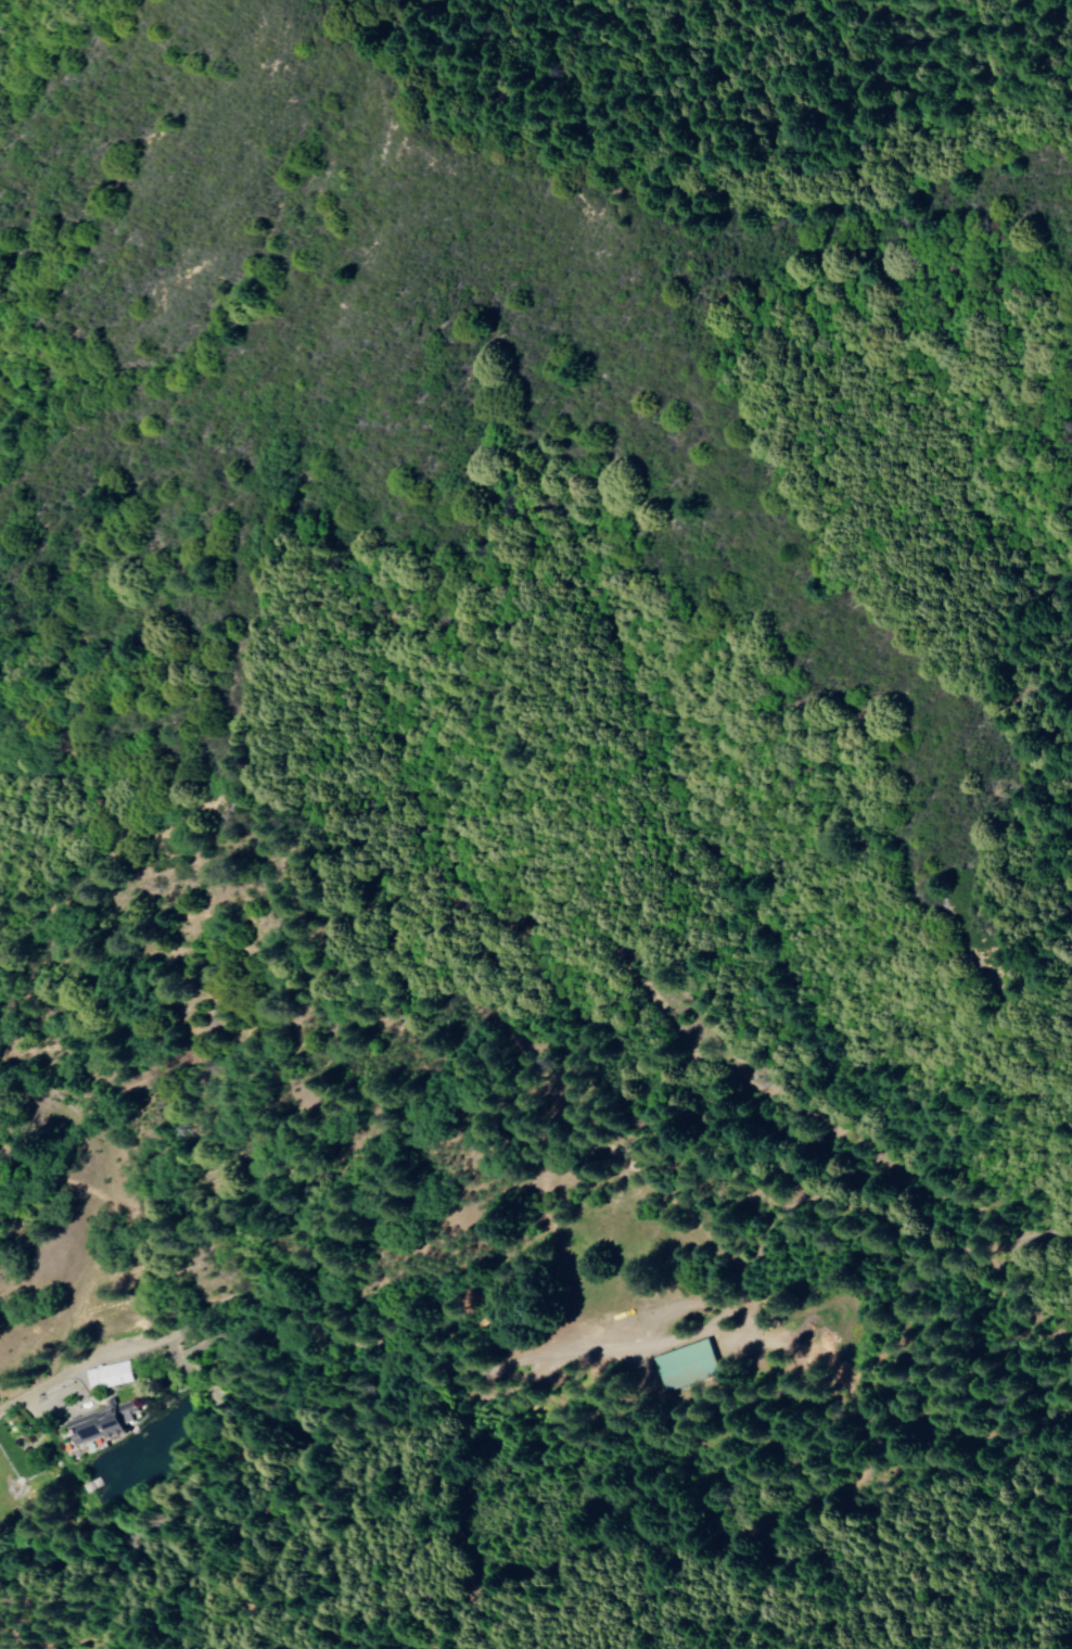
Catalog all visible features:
building: (688, 1366)
building: (110, 1375)
road: (522, 1393)
building: (101, 1424)

